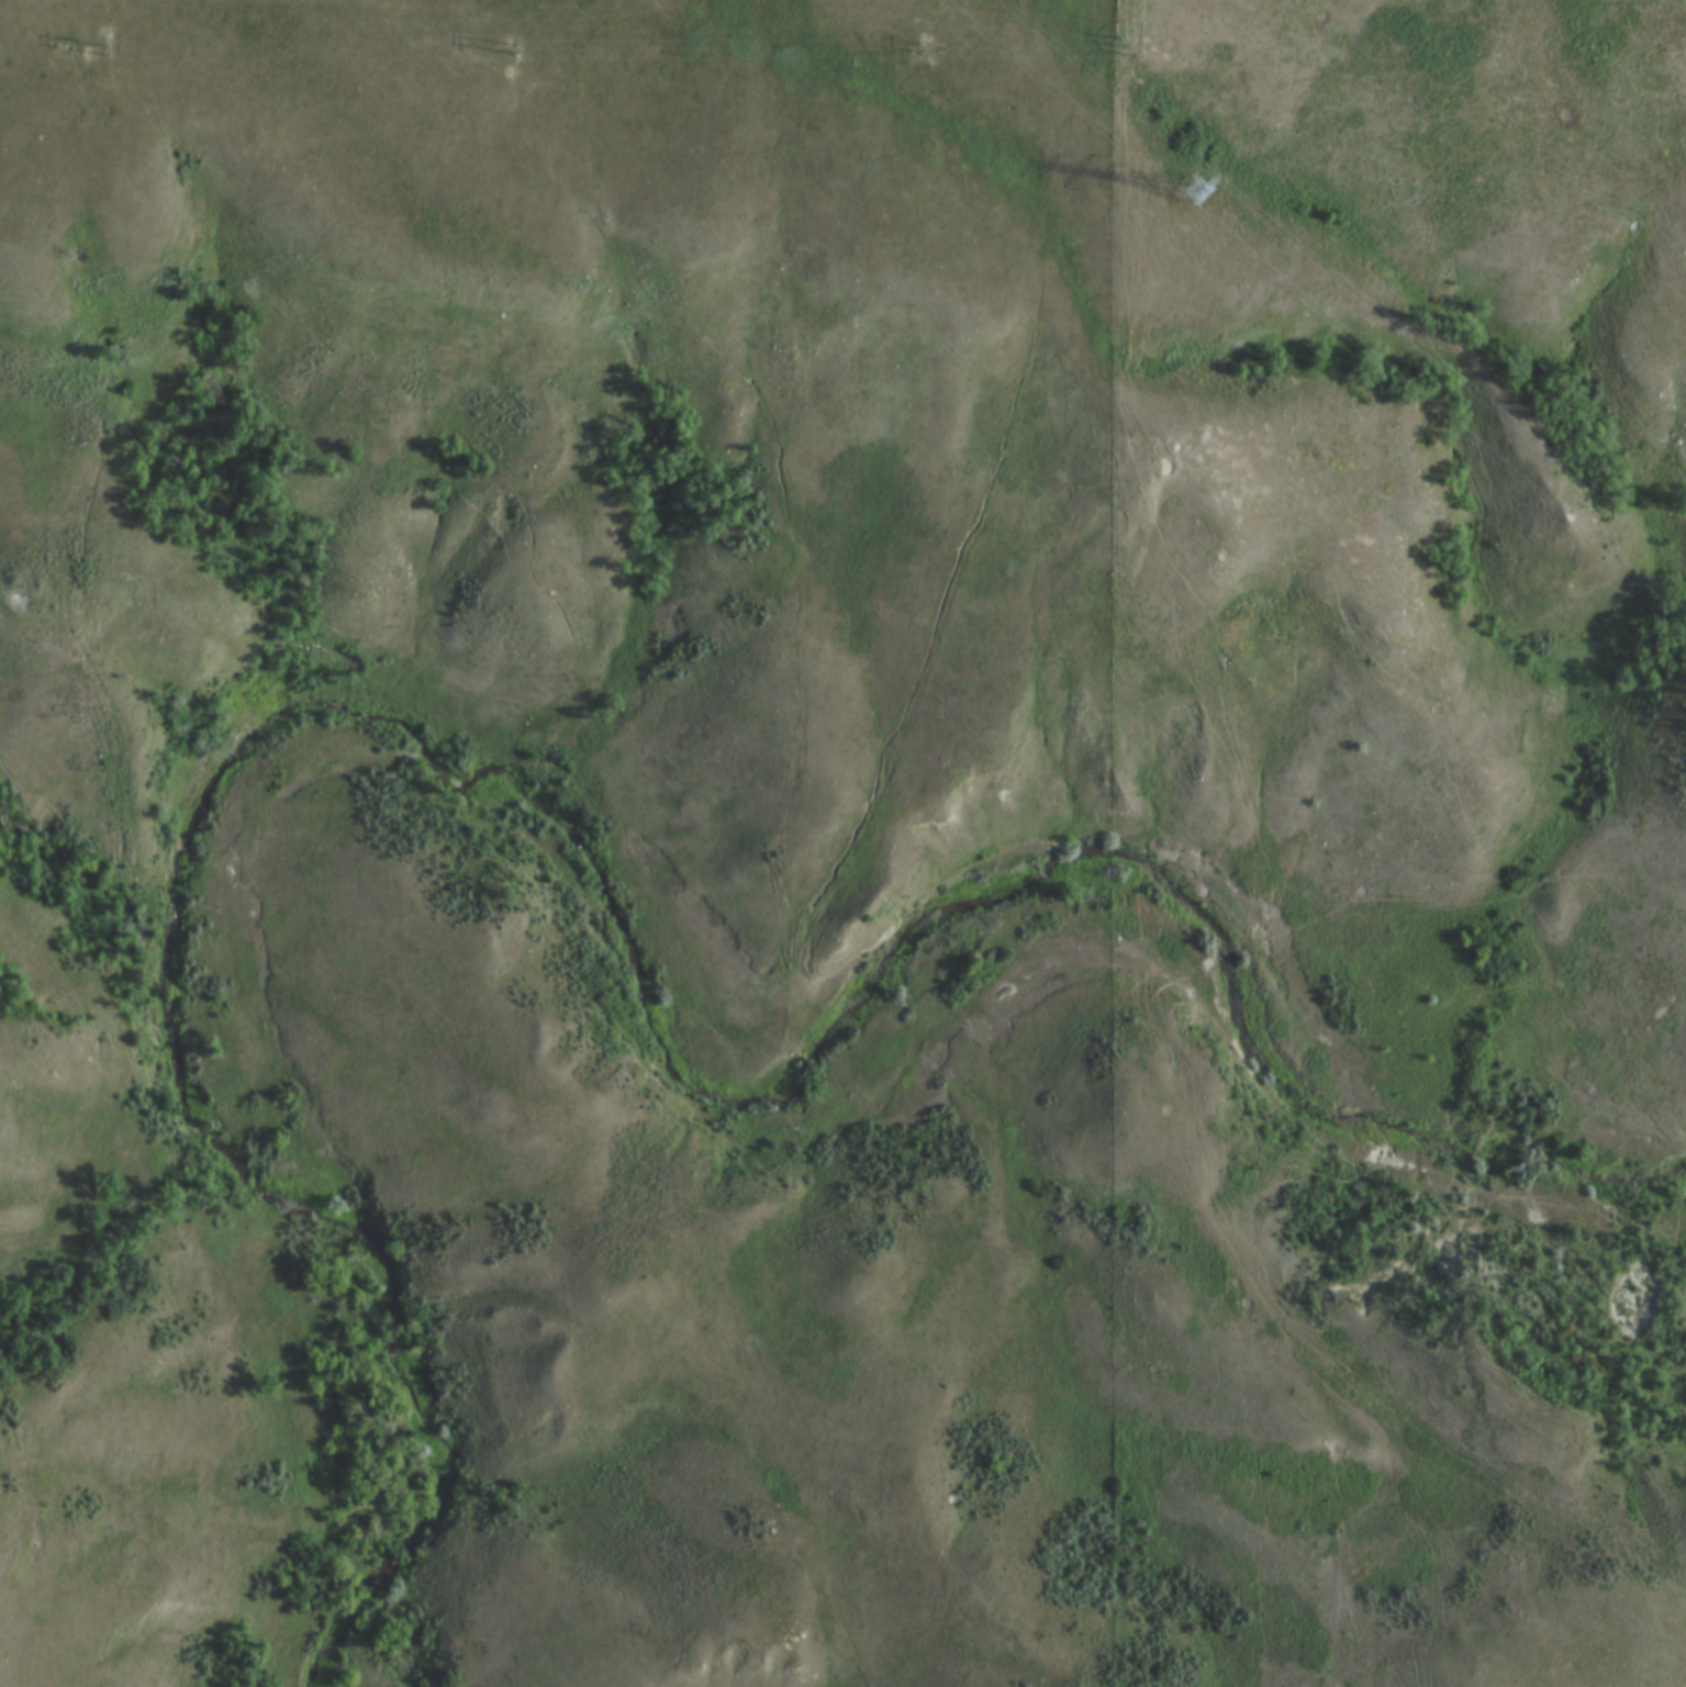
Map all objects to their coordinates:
power tower: (1197, 201)

